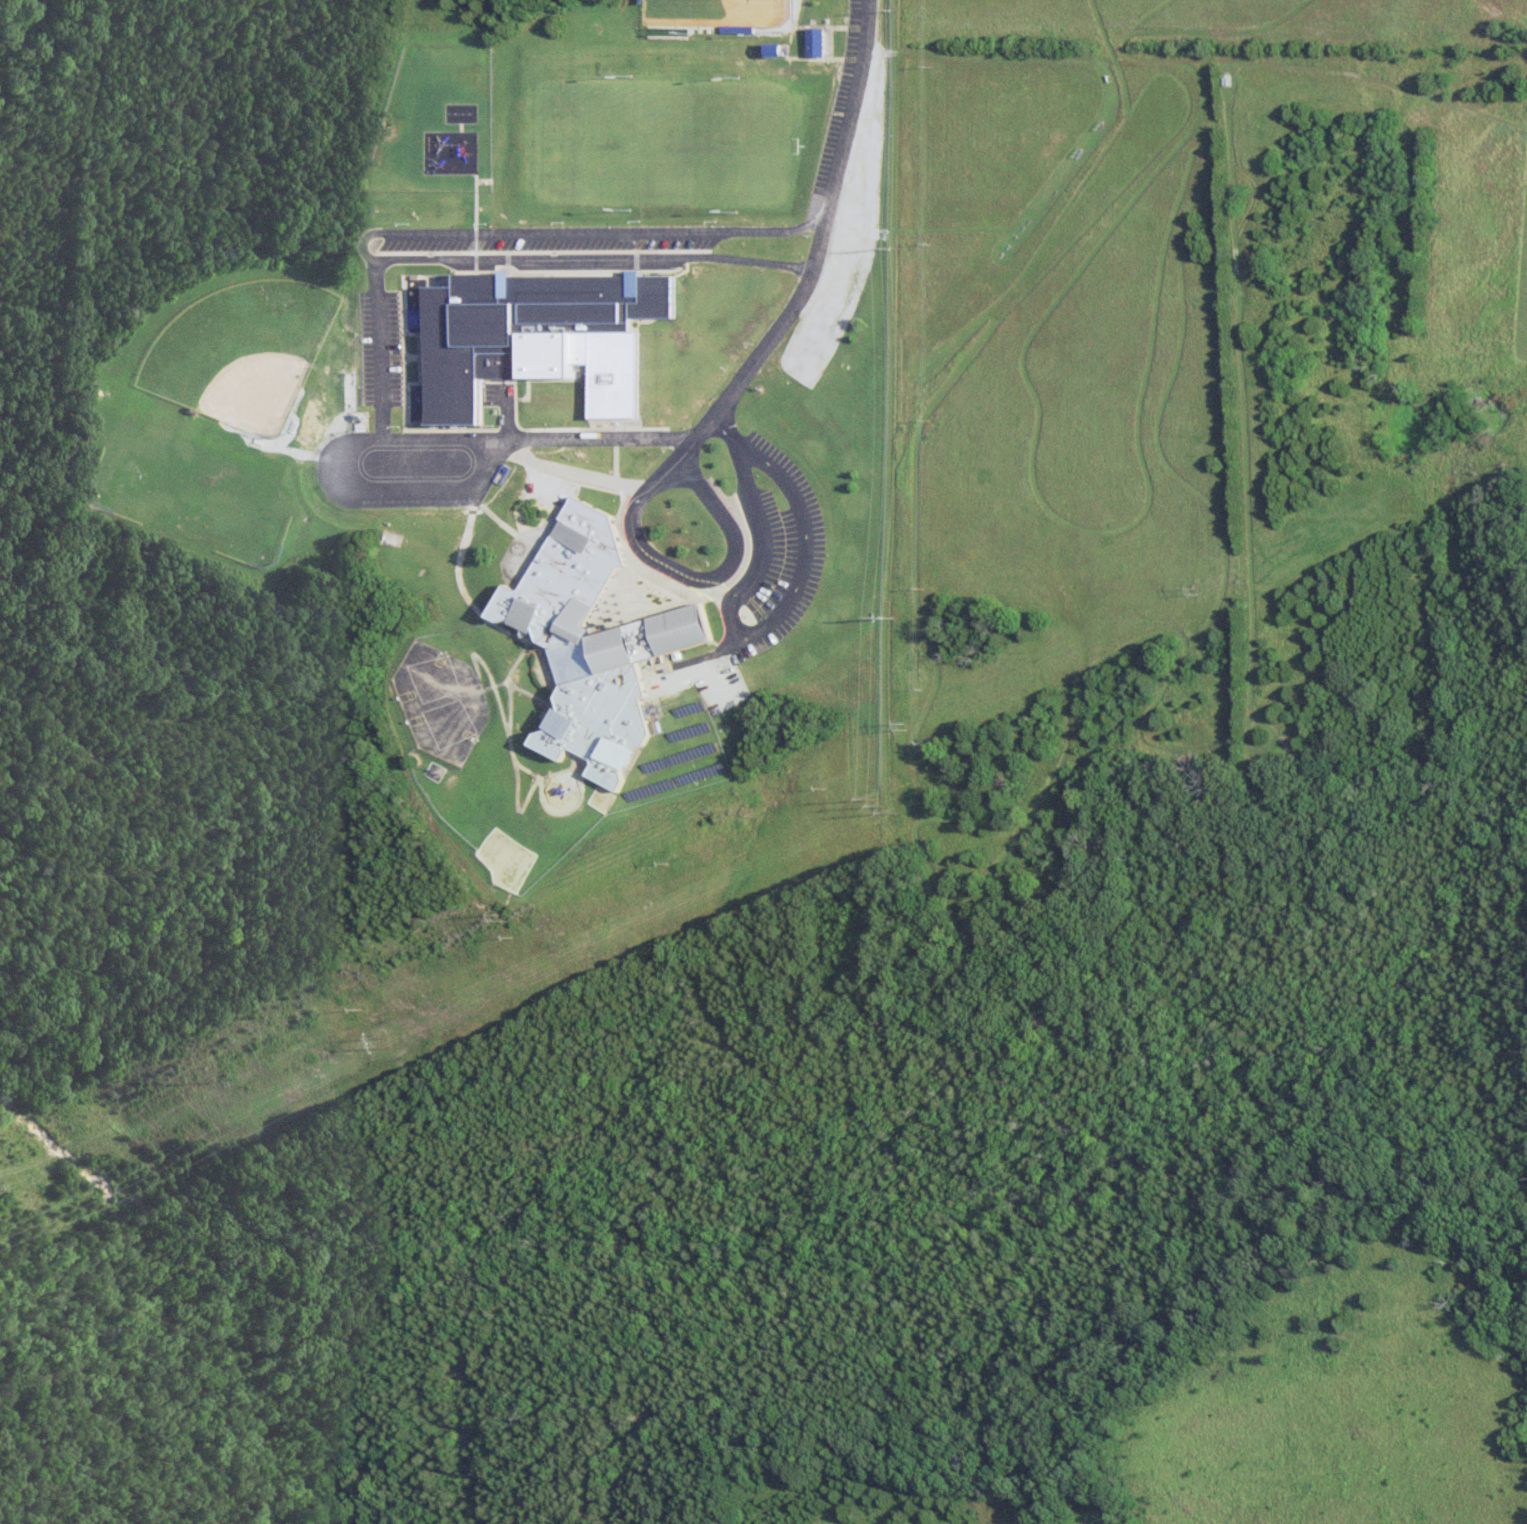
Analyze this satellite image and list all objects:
park: (716, 12)
building: (818, 43)
road: (603, 233)
road: (827, 241)
power tower: (889, 248)
road: (597, 256)
building: (525, 325)
road: (725, 430)
road: (433, 437)
road: (760, 535)
road: (805, 546)
power tower: (1192, 591)
power tower: (891, 617)
building: (603, 645)
power tower: (910, 727)
power tower: (892, 809)
power tower: (505, 917)
power tower: (389, 1043)

